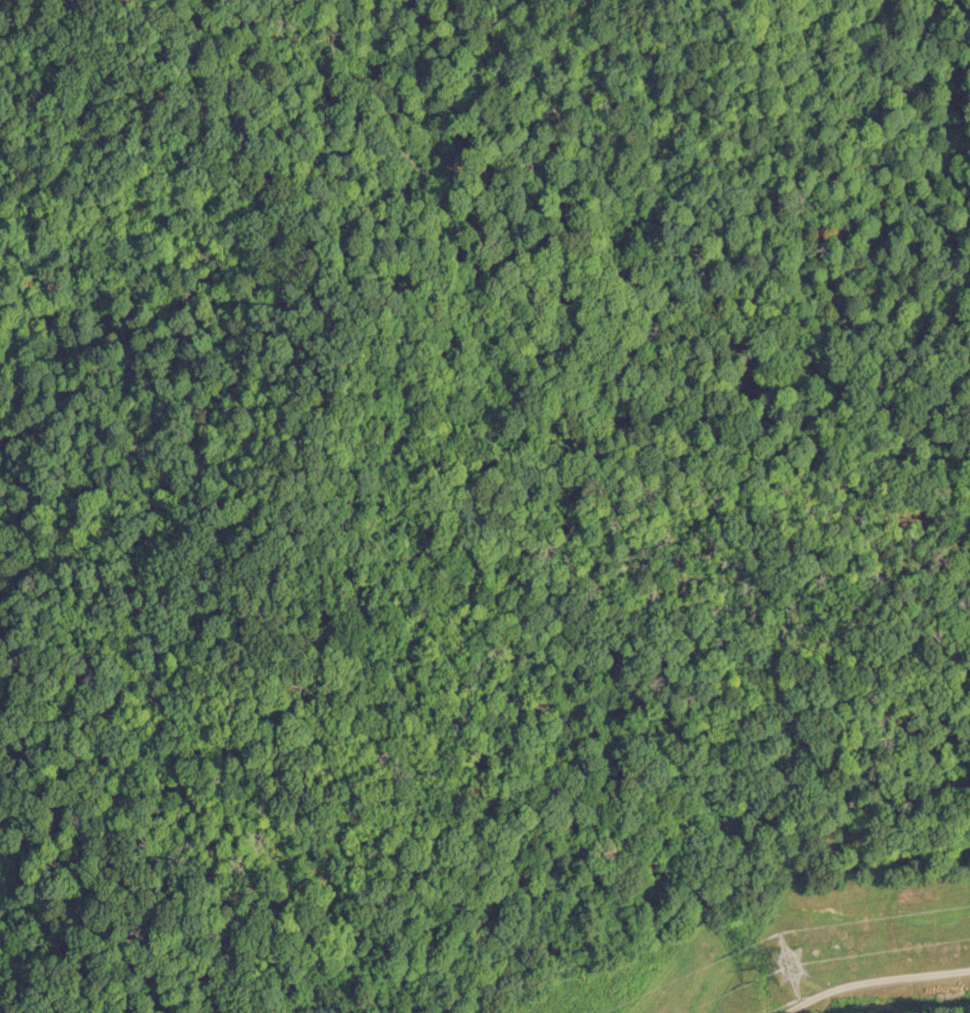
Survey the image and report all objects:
power tower: (796, 964)
road: (871, 979)

